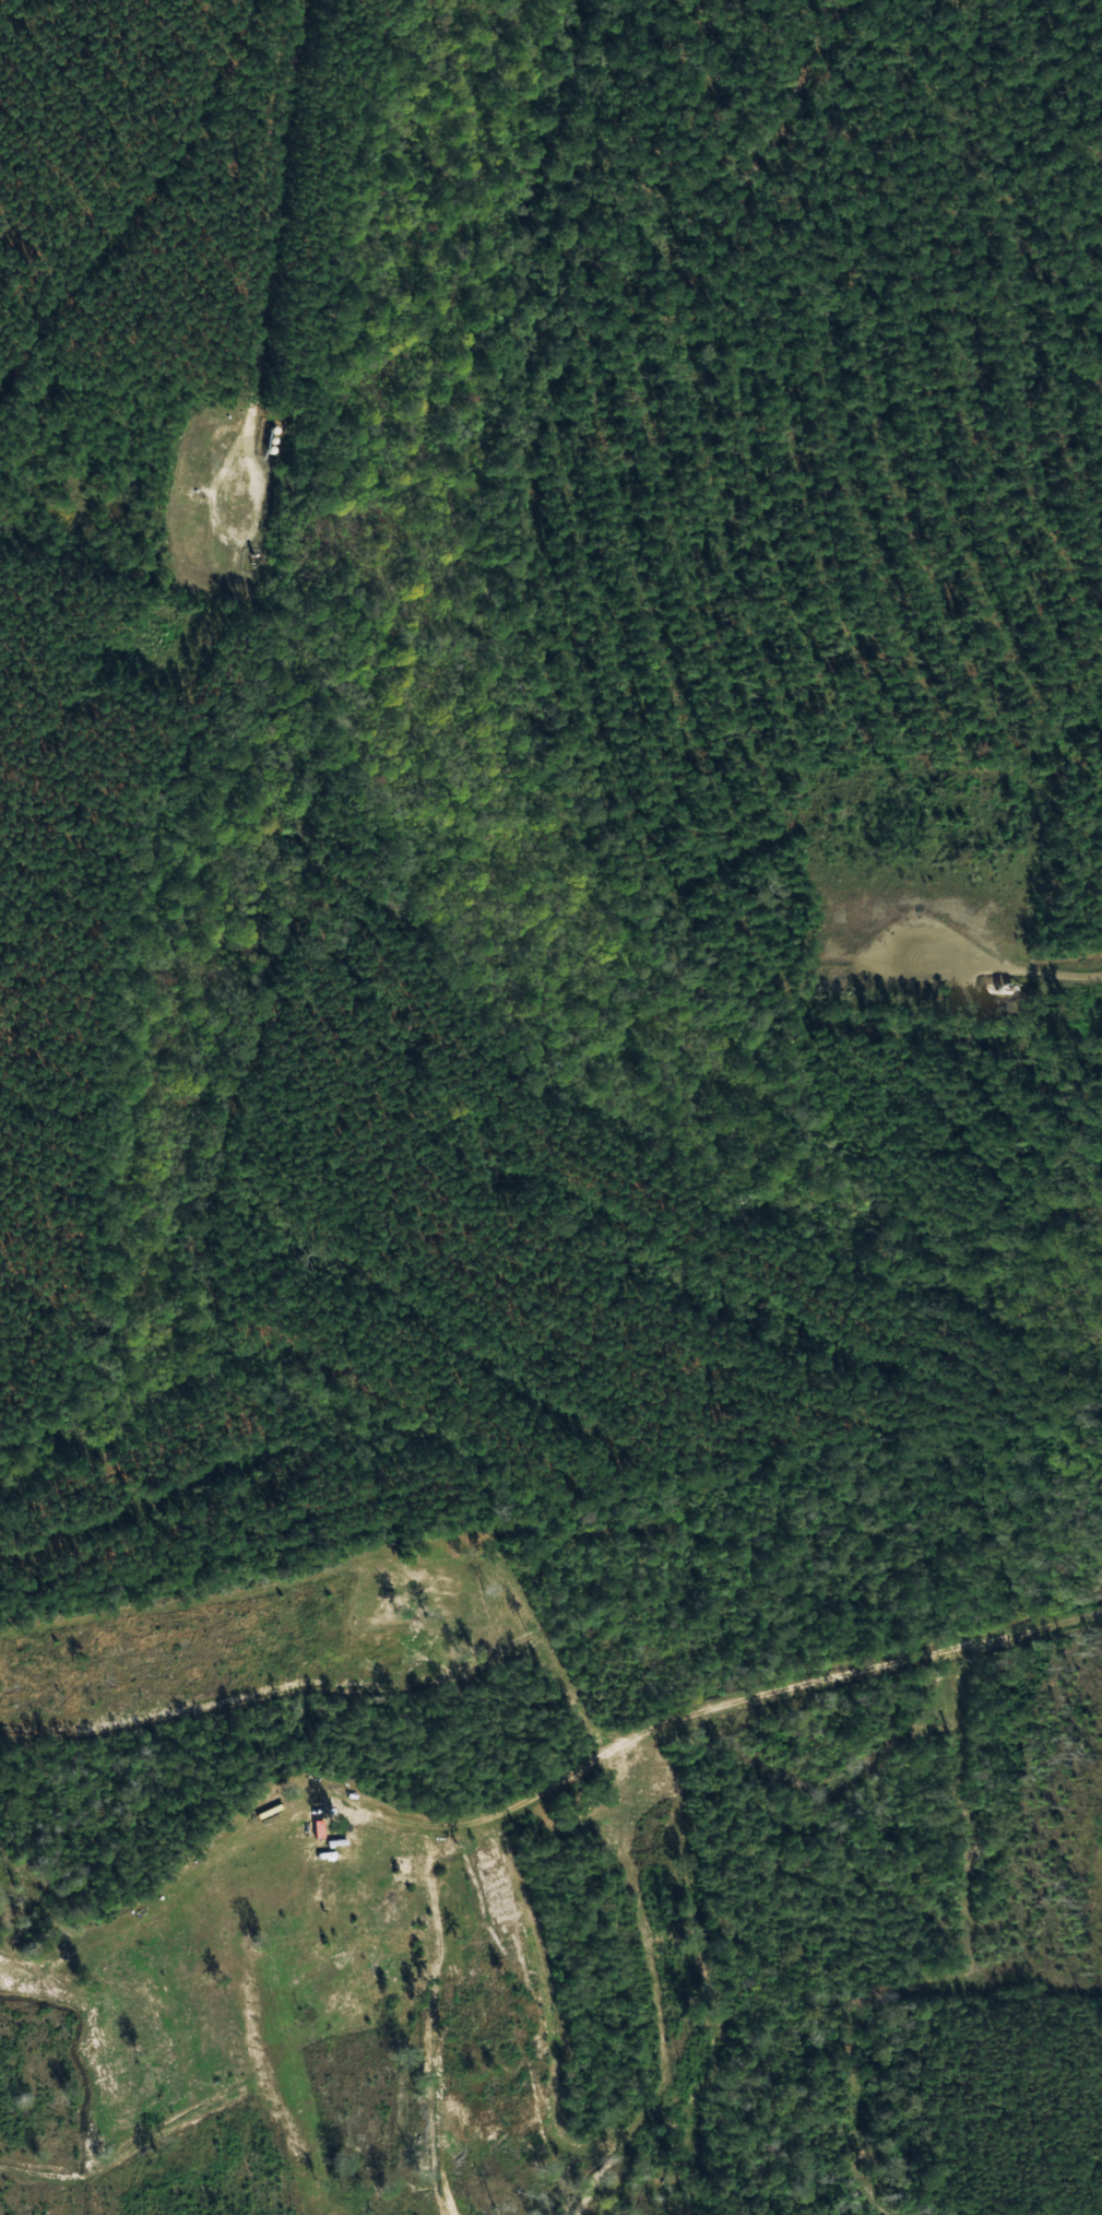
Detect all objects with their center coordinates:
road: (832, 1688)

